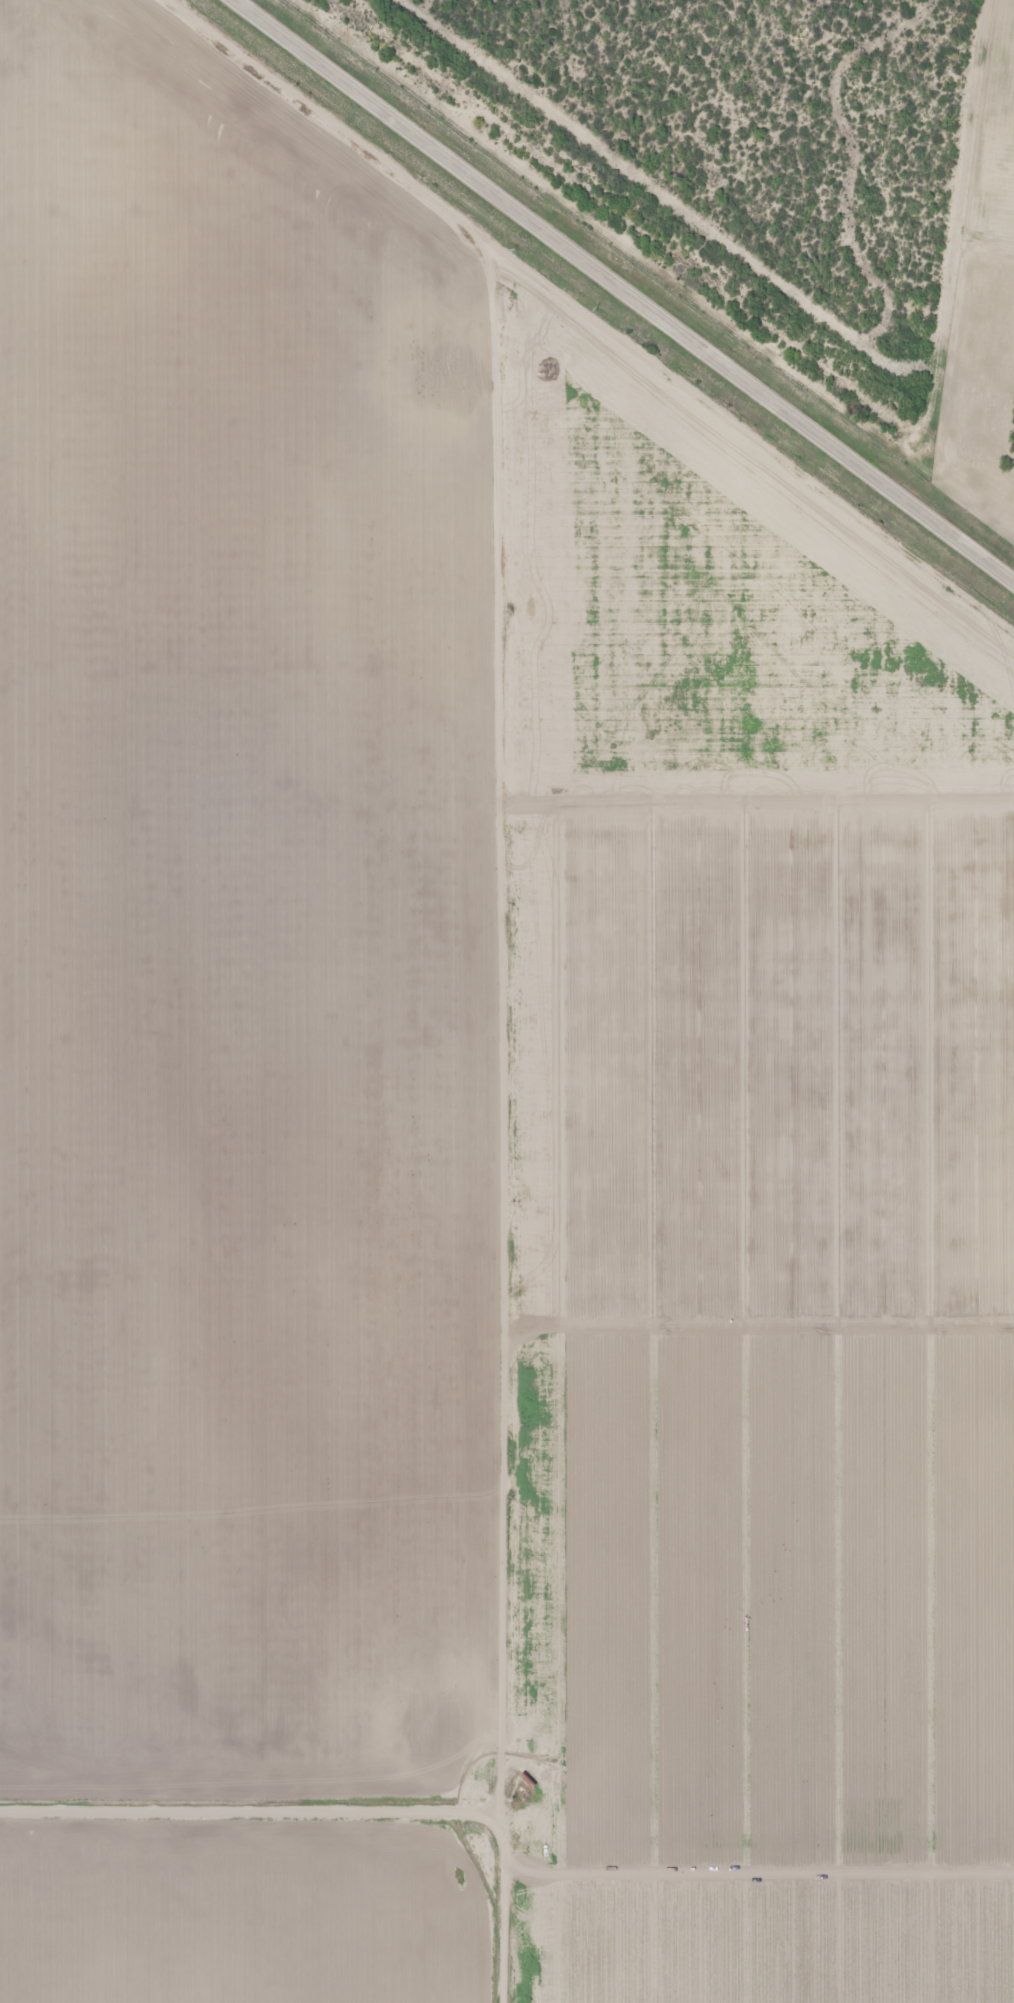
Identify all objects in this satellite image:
road: (629, 287)

